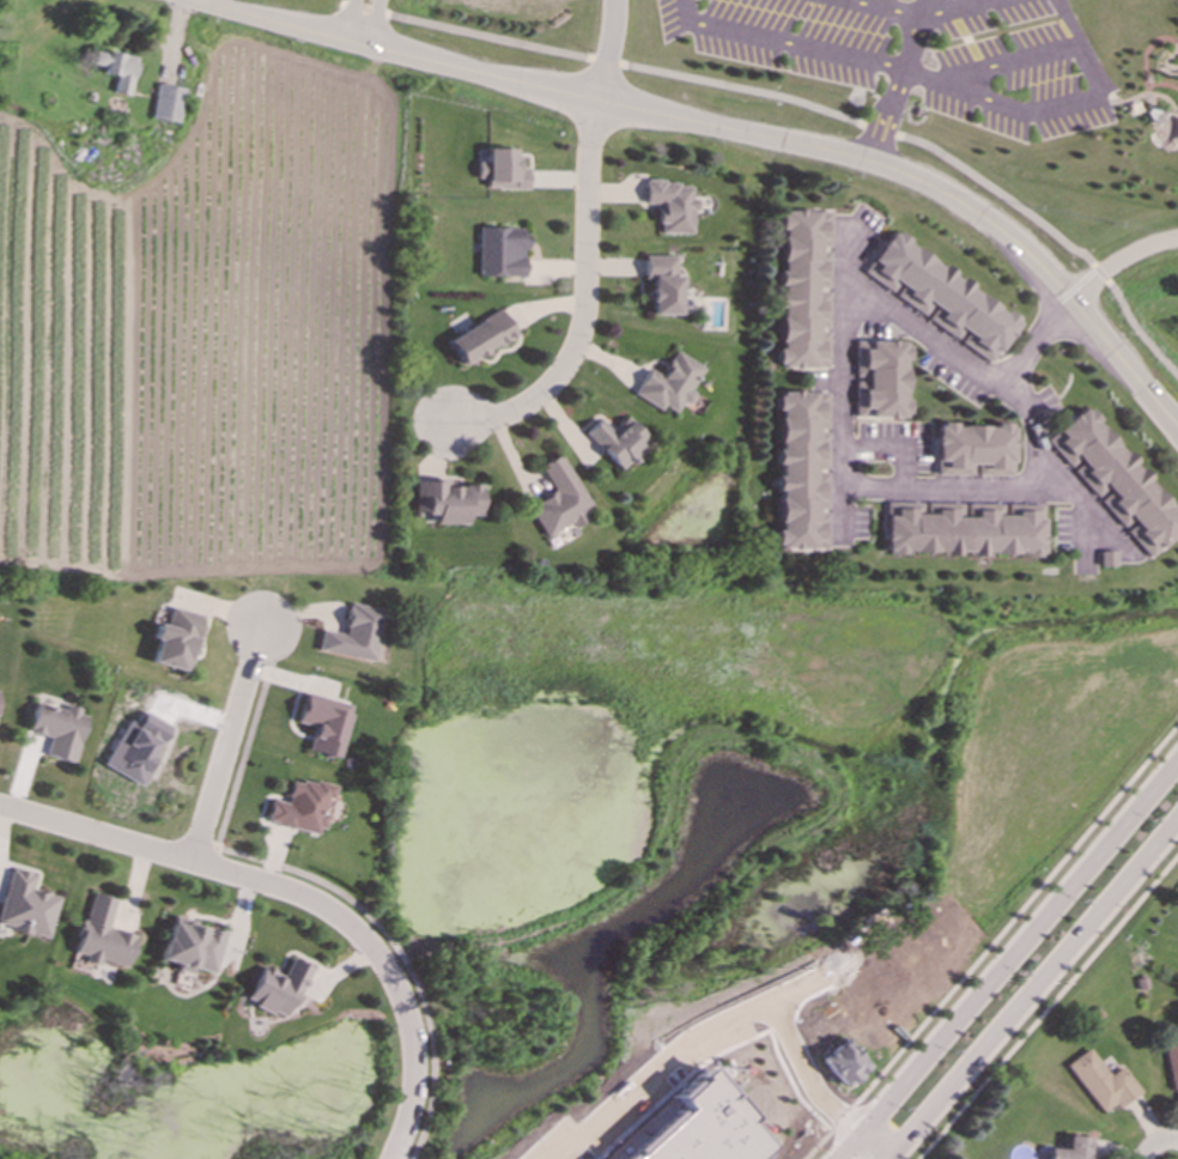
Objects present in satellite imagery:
road: (866, 5)
road: (961, 7)
road: (691, 11)
road: (901, 14)
road: (350, 19)
road: (375, 22)
road: (800, 47)
road: (605, 50)
building: (116, 69)
road: (961, 79)
road: (922, 80)
road: (901, 81)
road: (755, 91)
building: (166, 103)
road: (1092, 103)
road: (731, 132)
building: (500, 170)
building: (670, 206)
building: (500, 253)
road: (1121, 263)
road: (1103, 274)
building: (662, 284)
building: (804, 290)
building: (941, 296)
road: (582, 304)
road: (1140, 332)
crop: (204, 335)
building: (480, 338)
road: (1034, 339)
road: (953, 348)
road: (839, 372)
building: (882, 380)
building: (669, 383)
building: (618, 442)
building: (974, 450)
building: (802, 471)
building: (1115, 481)
road: (951, 487)
building: (558, 499)
building: (445, 502)
road: (1085, 503)
building: (963, 528)
building: (1106, 559)
building: (353, 635)
building: (175, 639)
building: (323, 723)
building: (57, 729)
road: (225, 744)
building: (136, 748)
building: (300, 807)
road: (204, 854)
road: (312, 878)
road: (297, 897)
building: (25, 906)
building: (102, 935)
road: (992, 943)
building: (190, 946)
road: (1007, 960)
road: (1034, 988)
building: (277, 989)
road: (1048, 1007)
road: (719, 1036)
building: (843, 1063)
building: (1172, 1064)
building: (1103, 1082)
building: (696, 1128)
road: (875, 1143)
road: (1158, 1143)
building: (1073, 1149)

